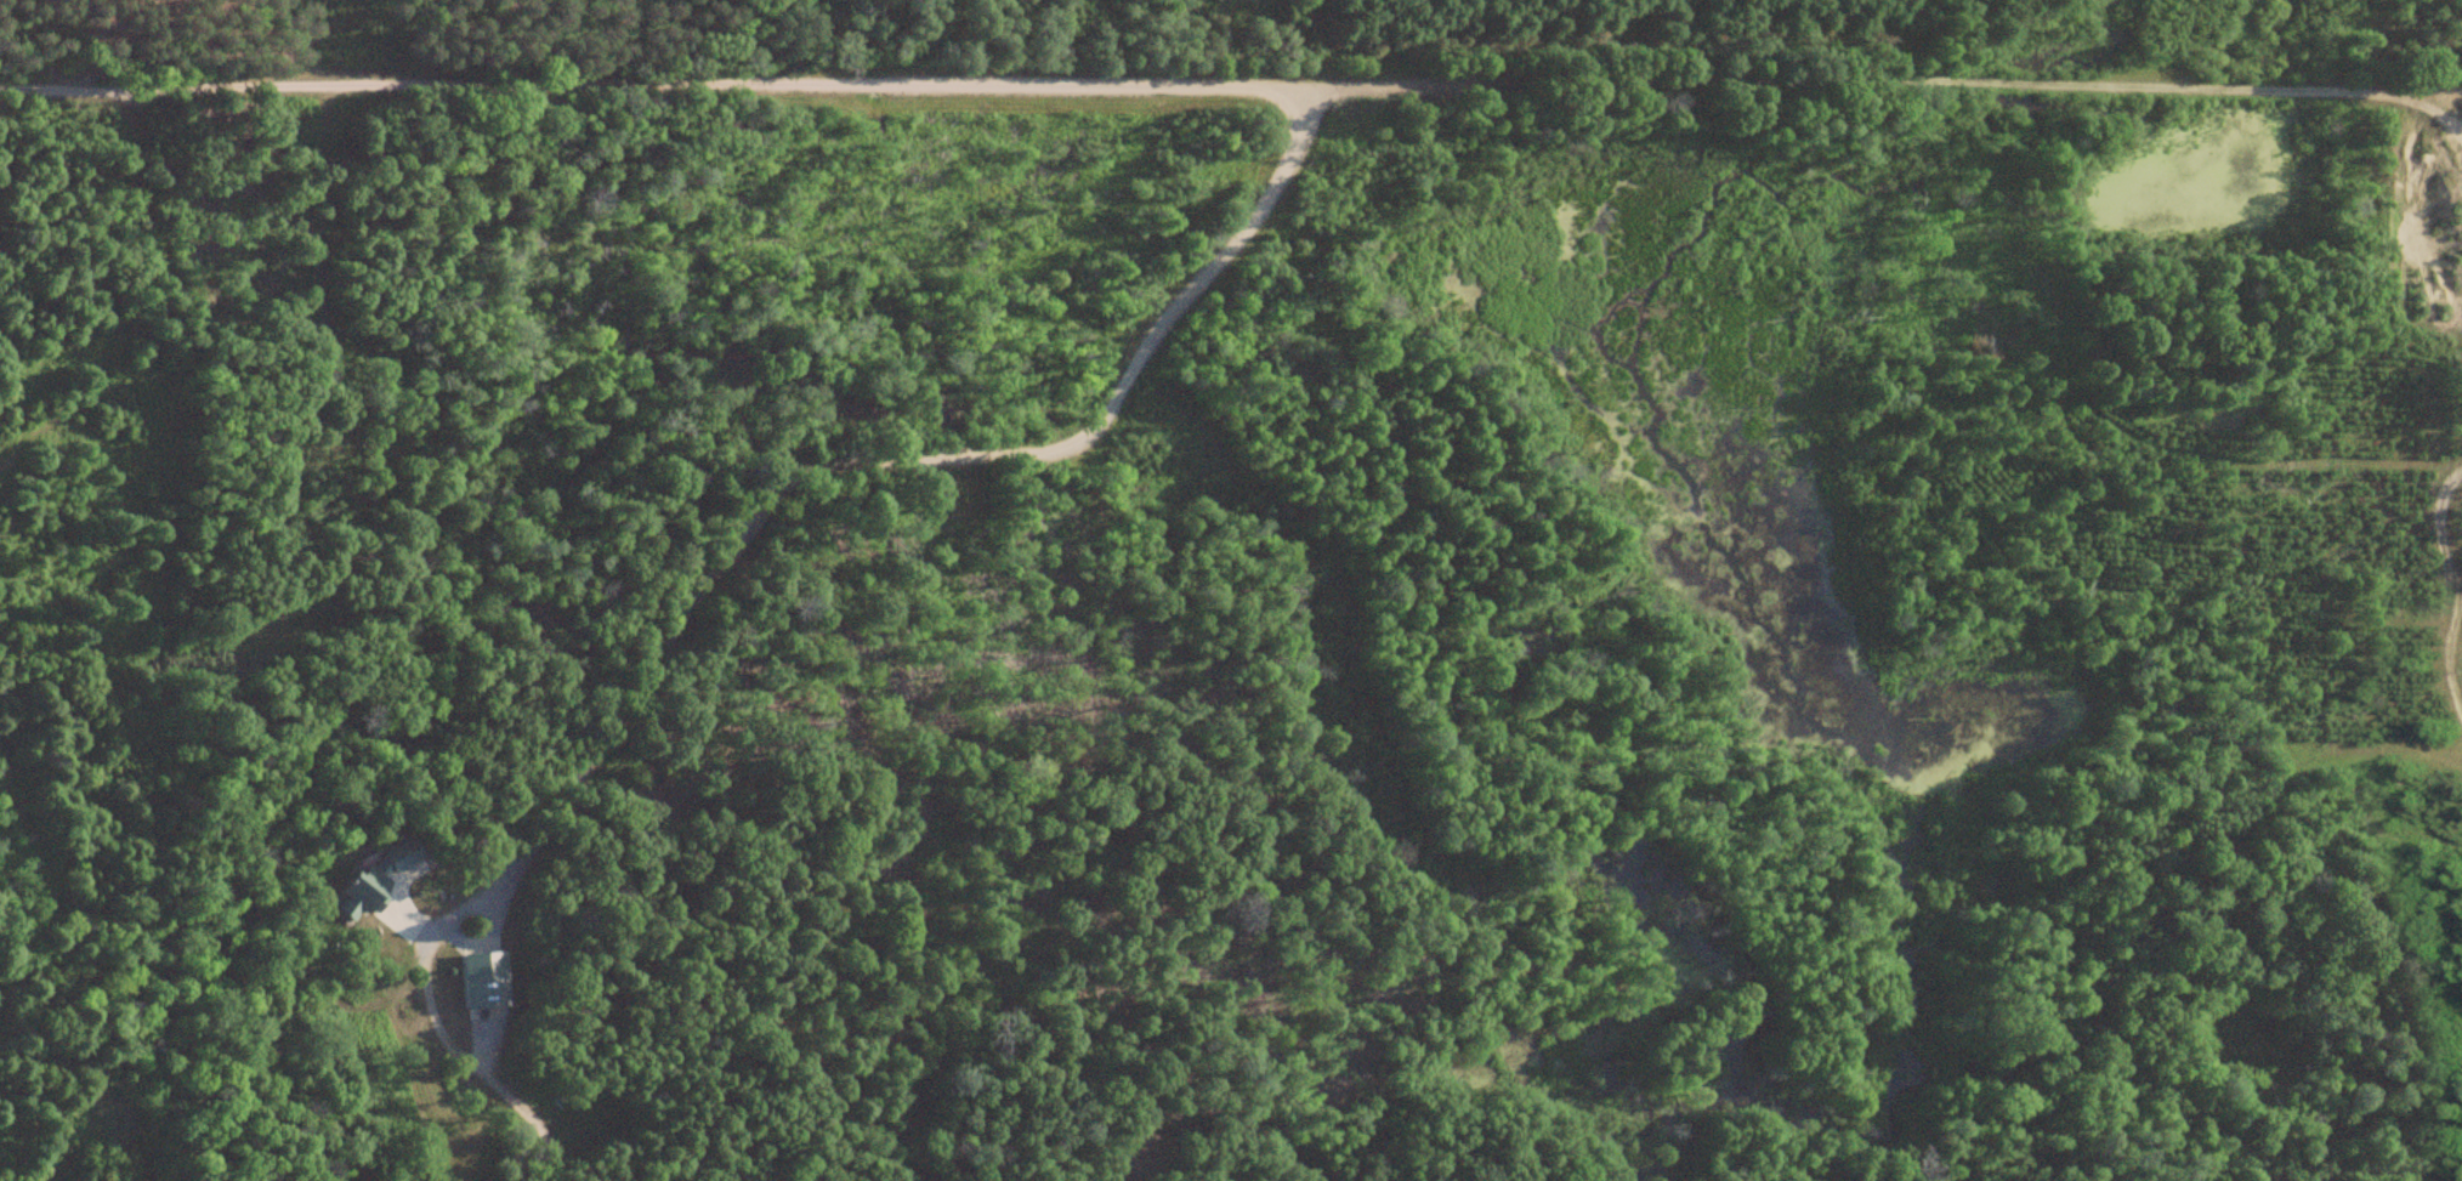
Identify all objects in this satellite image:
road: (985, 85)
building: (368, 882)
building: (484, 980)

